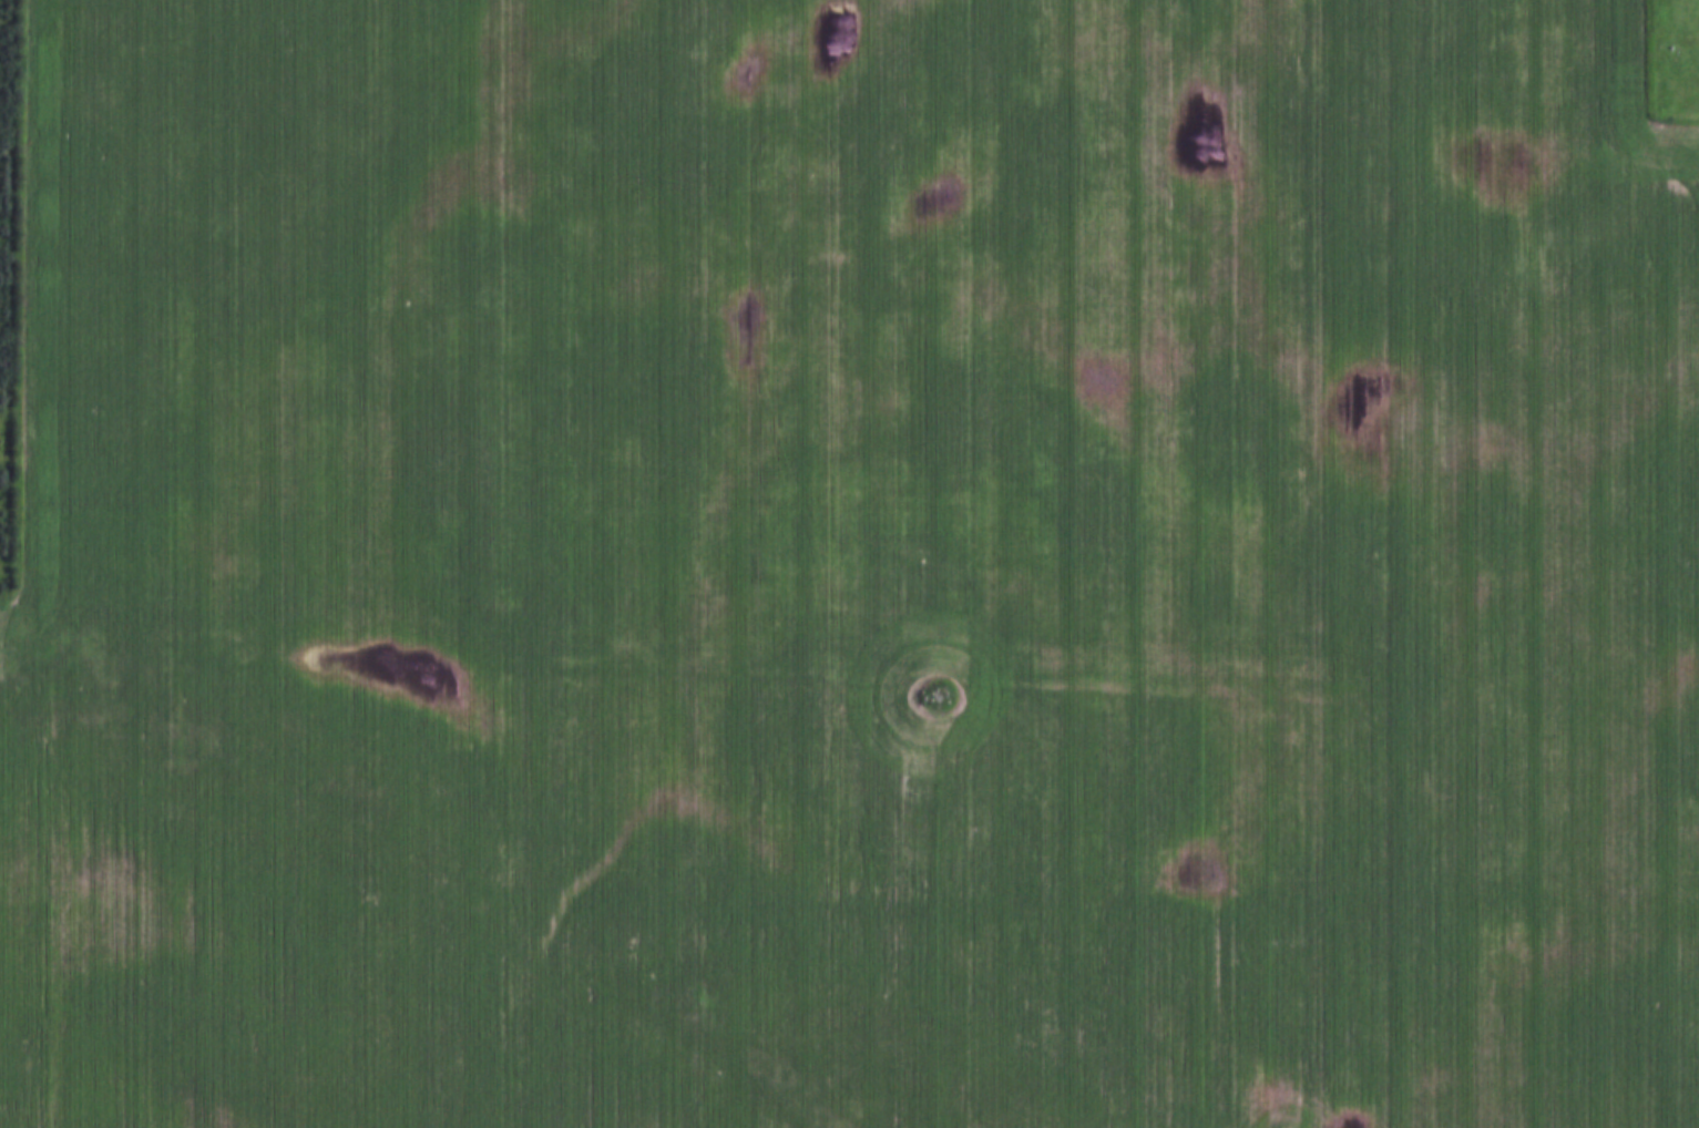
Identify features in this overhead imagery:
park: (1675, 59)

